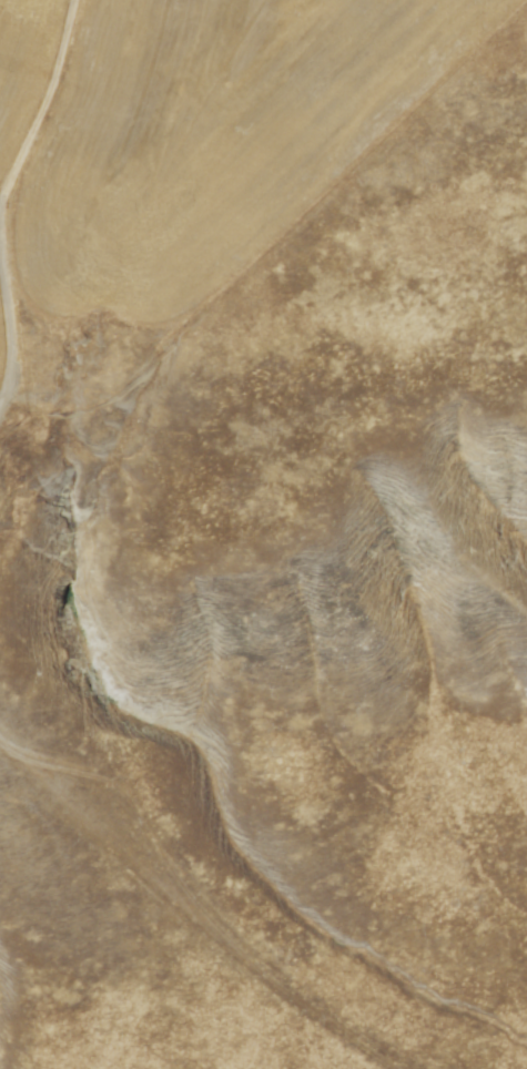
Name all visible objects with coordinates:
road: (6, 200)

